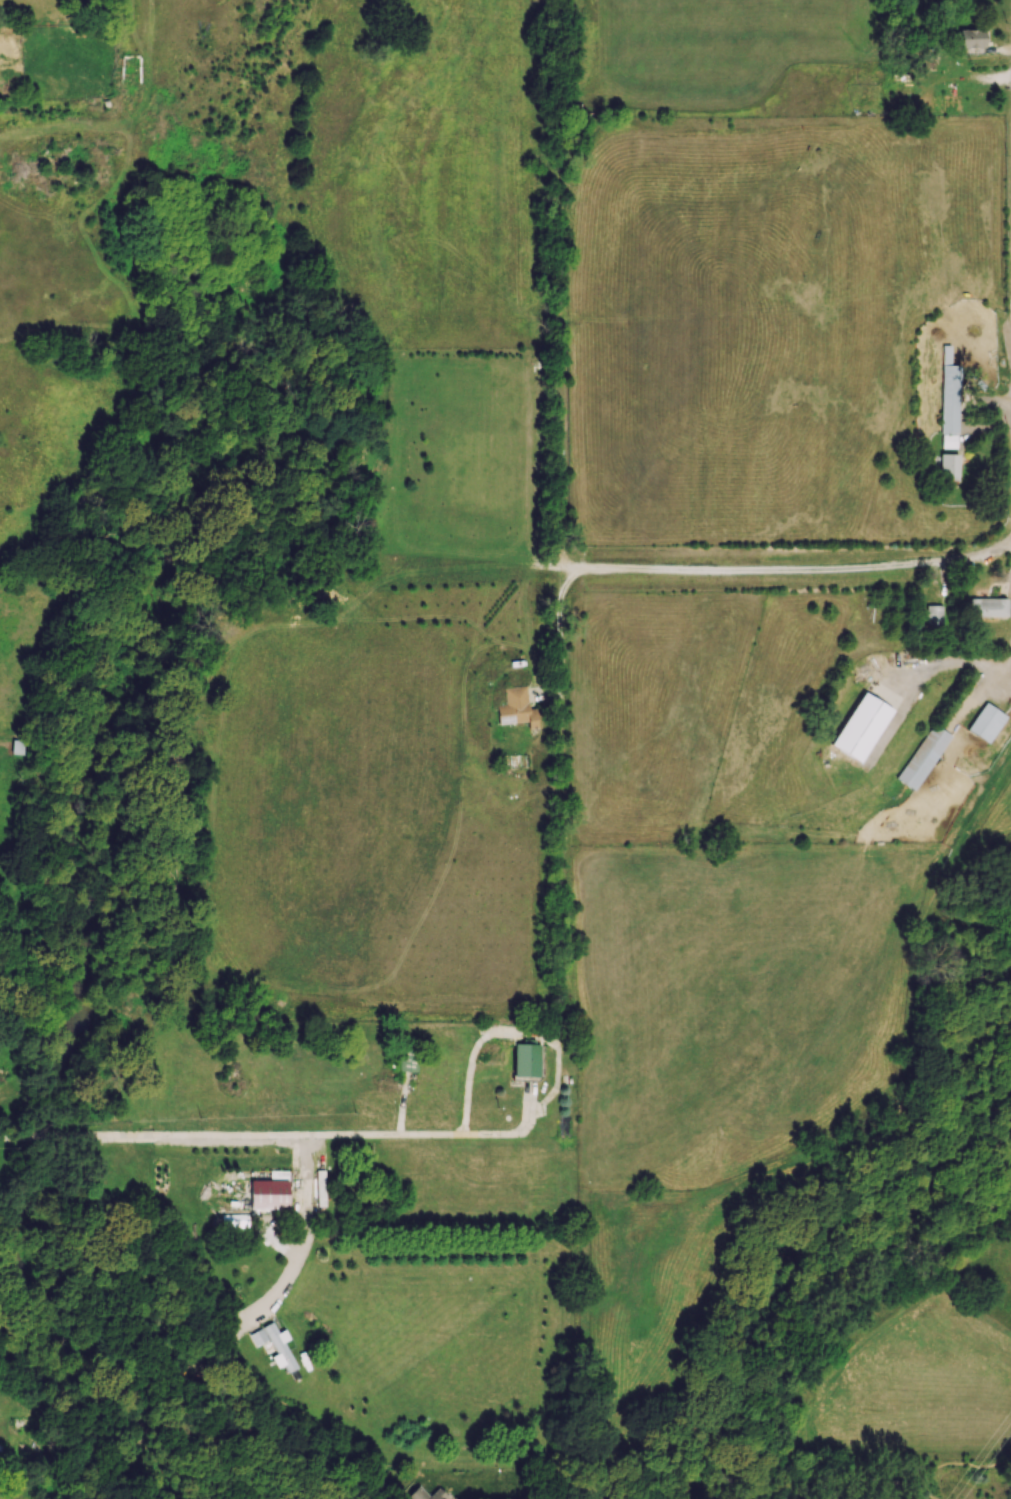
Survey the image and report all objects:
building: (971, 39)
building: (948, 400)
building: (948, 466)
road: (735, 559)
building: (987, 607)
building: (933, 615)
road: (951, 660)
building: (515, 708)
building: (985, 722)
building: (860, 726)
building: (17, 746)
building: (923, 756)
building: (408, 1058)
building: (526, 1059)
road: (415, 1132)
road: (197, 1137)
road: (24, 1138)
road: (66, 1139)
building: (320, 1187)
building: (268, 1193)
building: (273, 1343)
building: (214, 1423)
road: (955, 1452)
power tower: (972, 1457)
building: (438, 1494)

